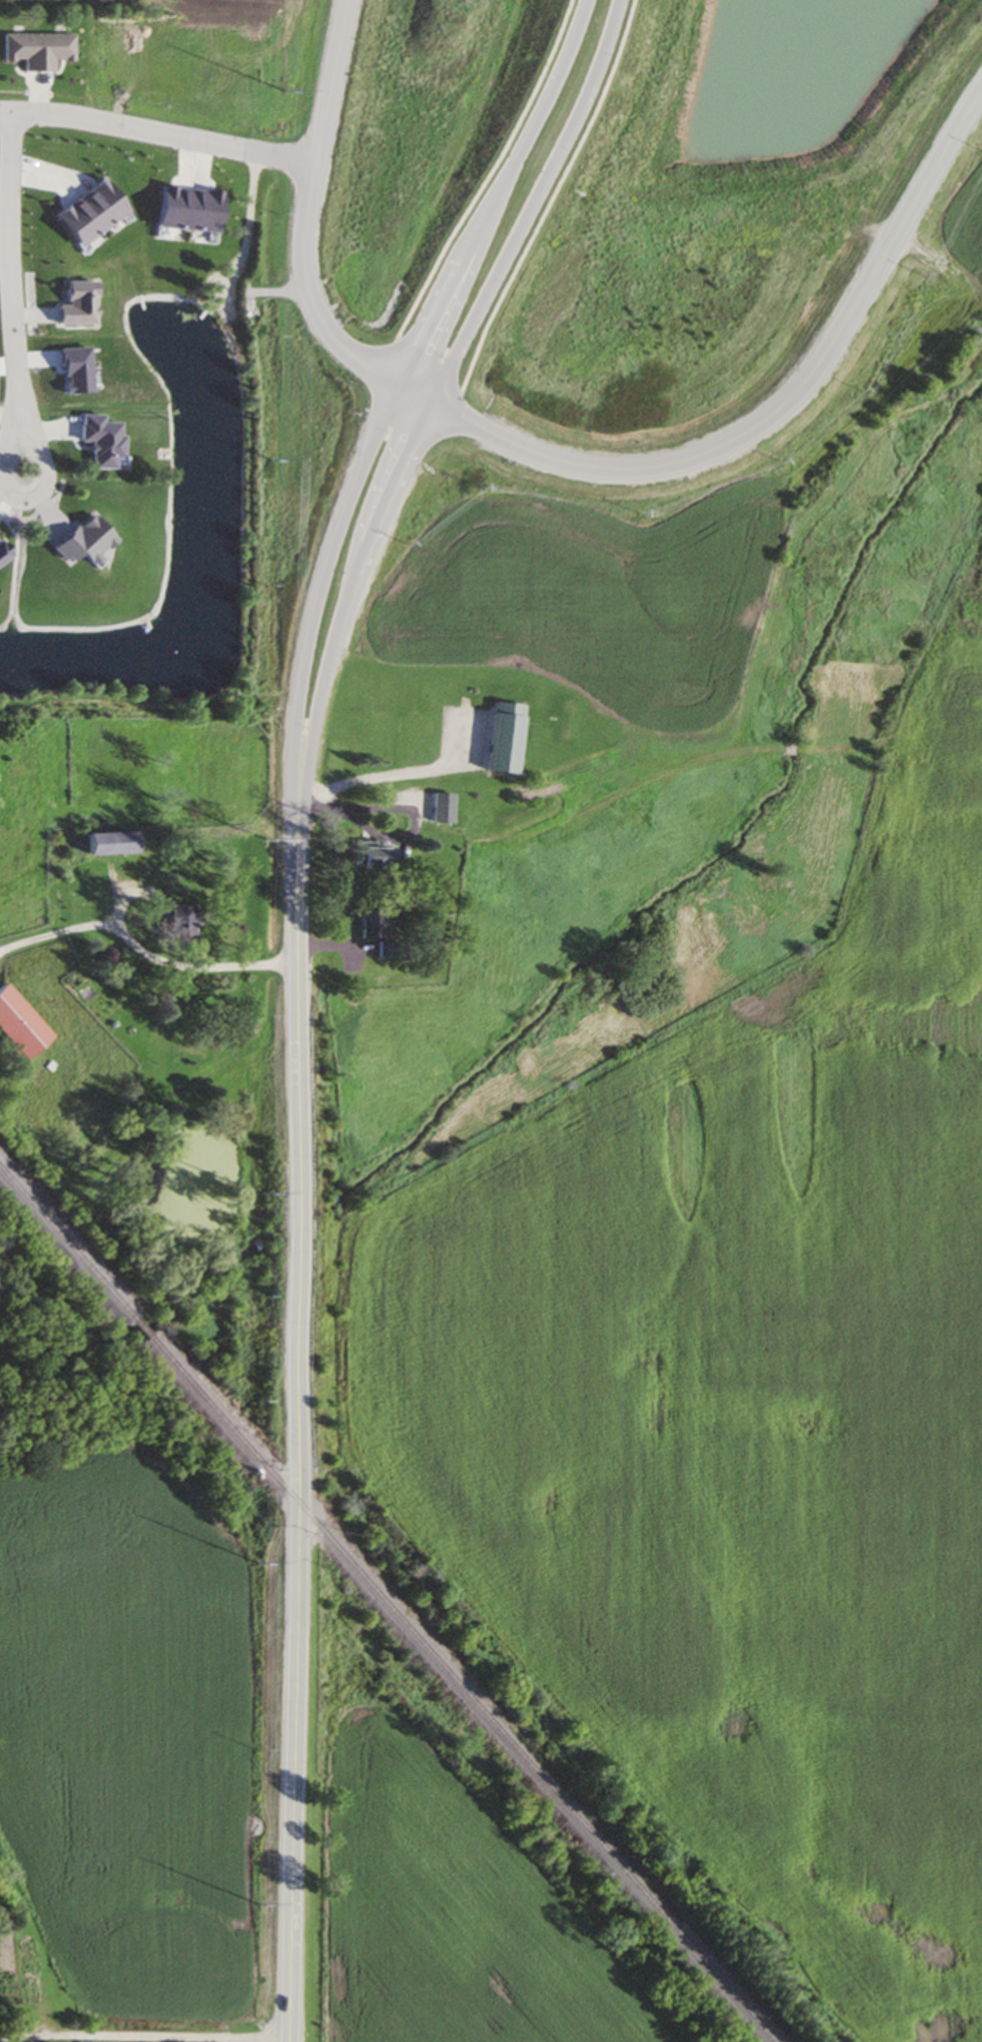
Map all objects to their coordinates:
building: (37, 49)
road: (157, 131)
road: (477, 188)
building: (187, 207)
road: (542, 207)
building: (88, 215)
road: (302, 227)
road: (7, 251)
building: (77, 303)
road: (777, 406)
road: (374, 423)
road: (413, 426)
building: (100, 440)
road: (25, 499)
building: (84, 540)
building: (3, 551)
building: (412, 738)
road: (404, 808)
building: (110, 841)
building: (374, 854)
building: (180, 918)
building: (371, 923)
building: (381, 947)
road: (143, 949)
building: (19, 1023)
railway: (67, 1245)
railway: (143, 1330)
road: (298, 1461)
railway: (460, 1690)

